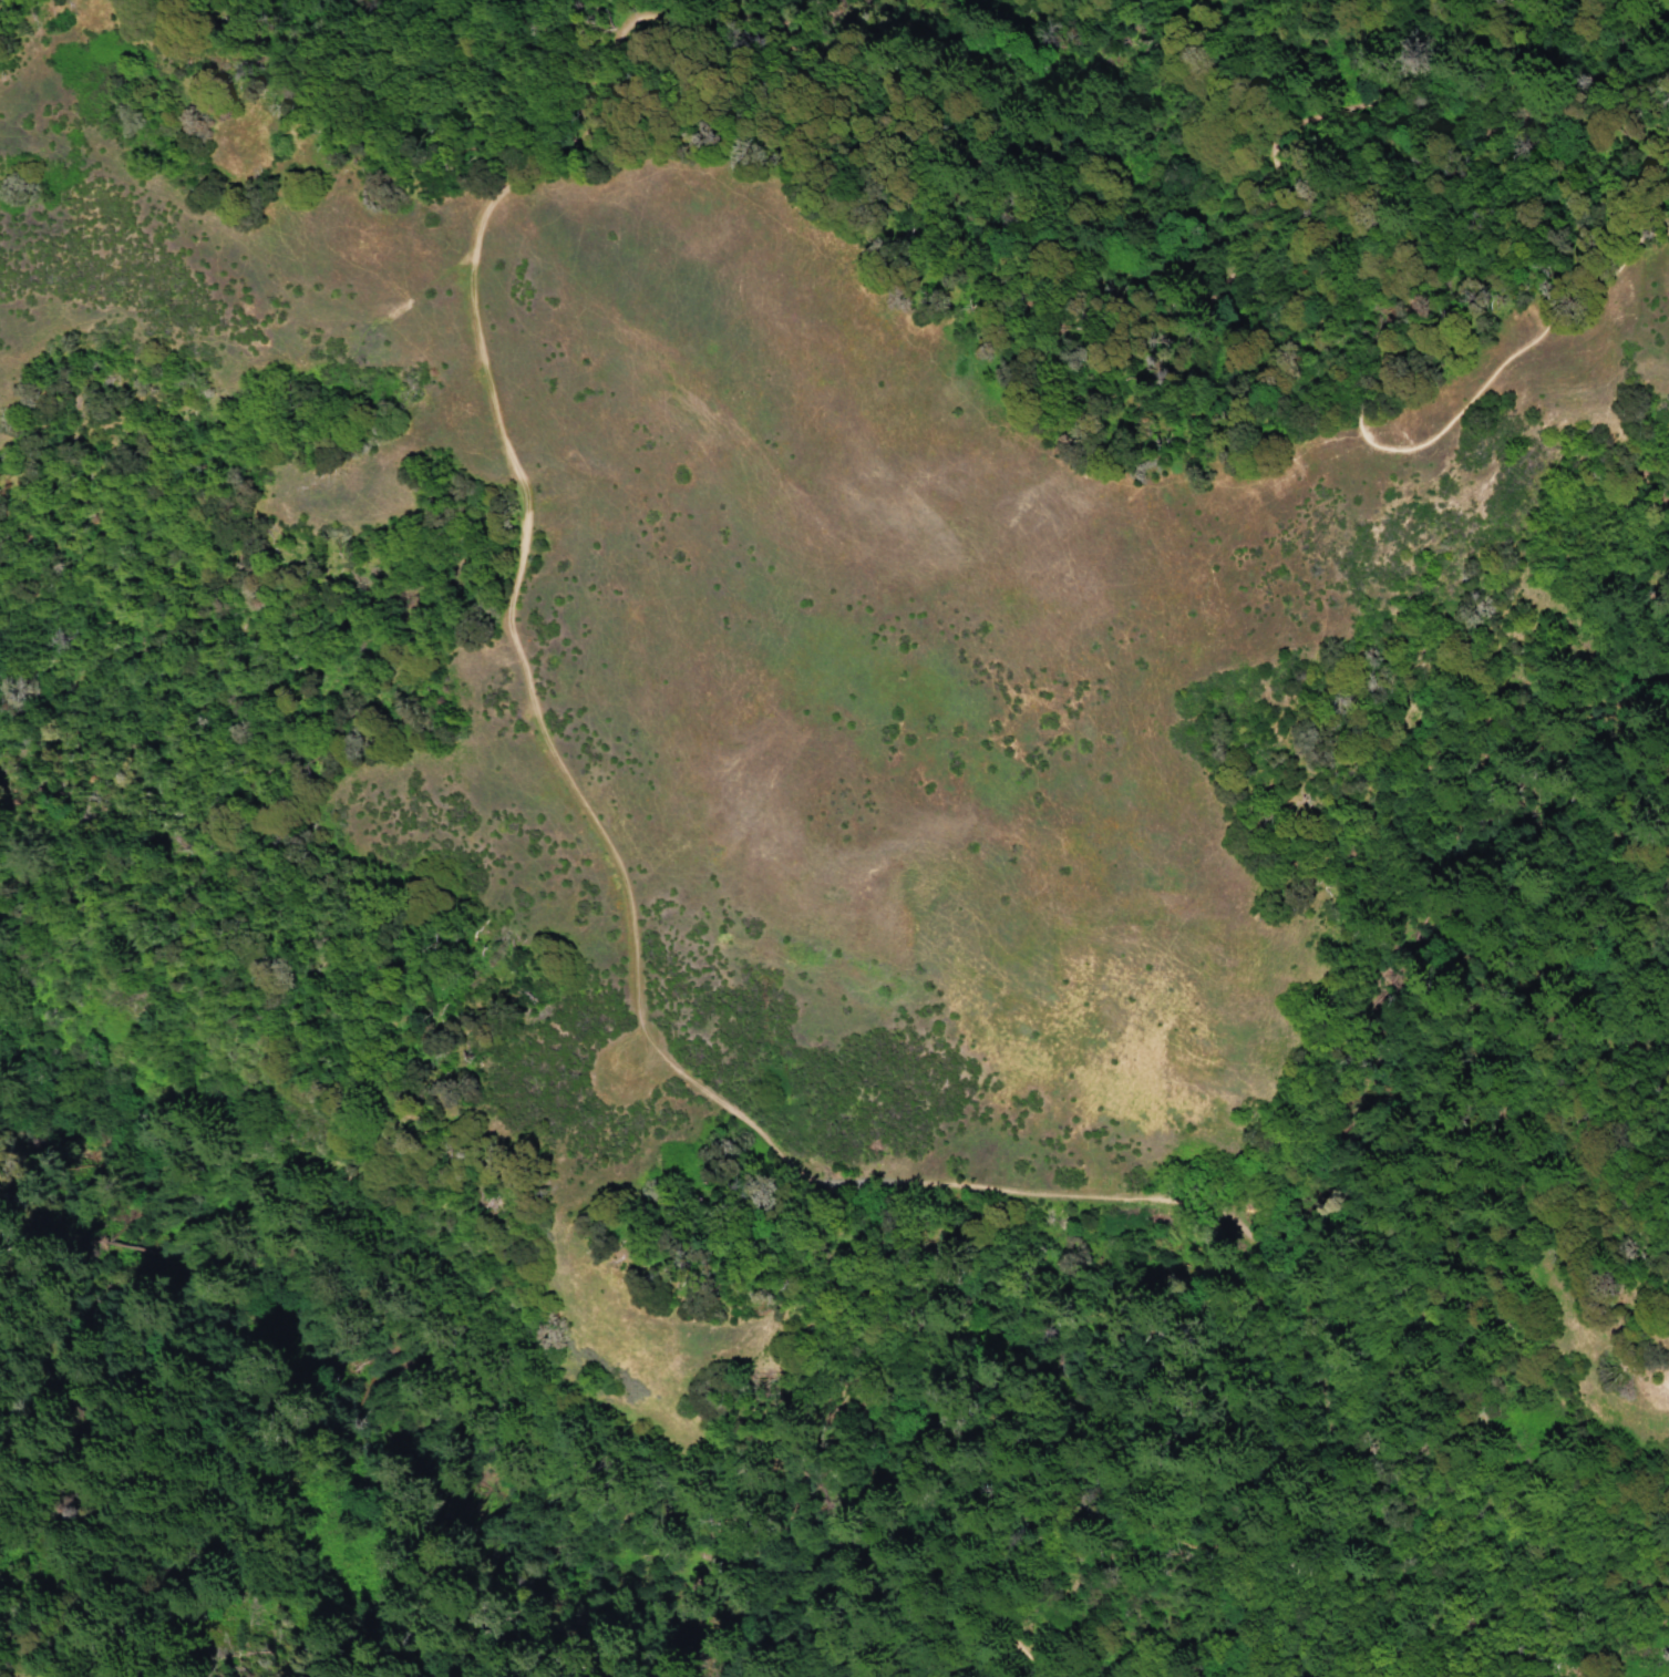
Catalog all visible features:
road: (996, 172)
road: (1388, 359)
road: (515, 649)
road: (933, 1182)
road: (1233, 1533)
road: (3, 1676)

